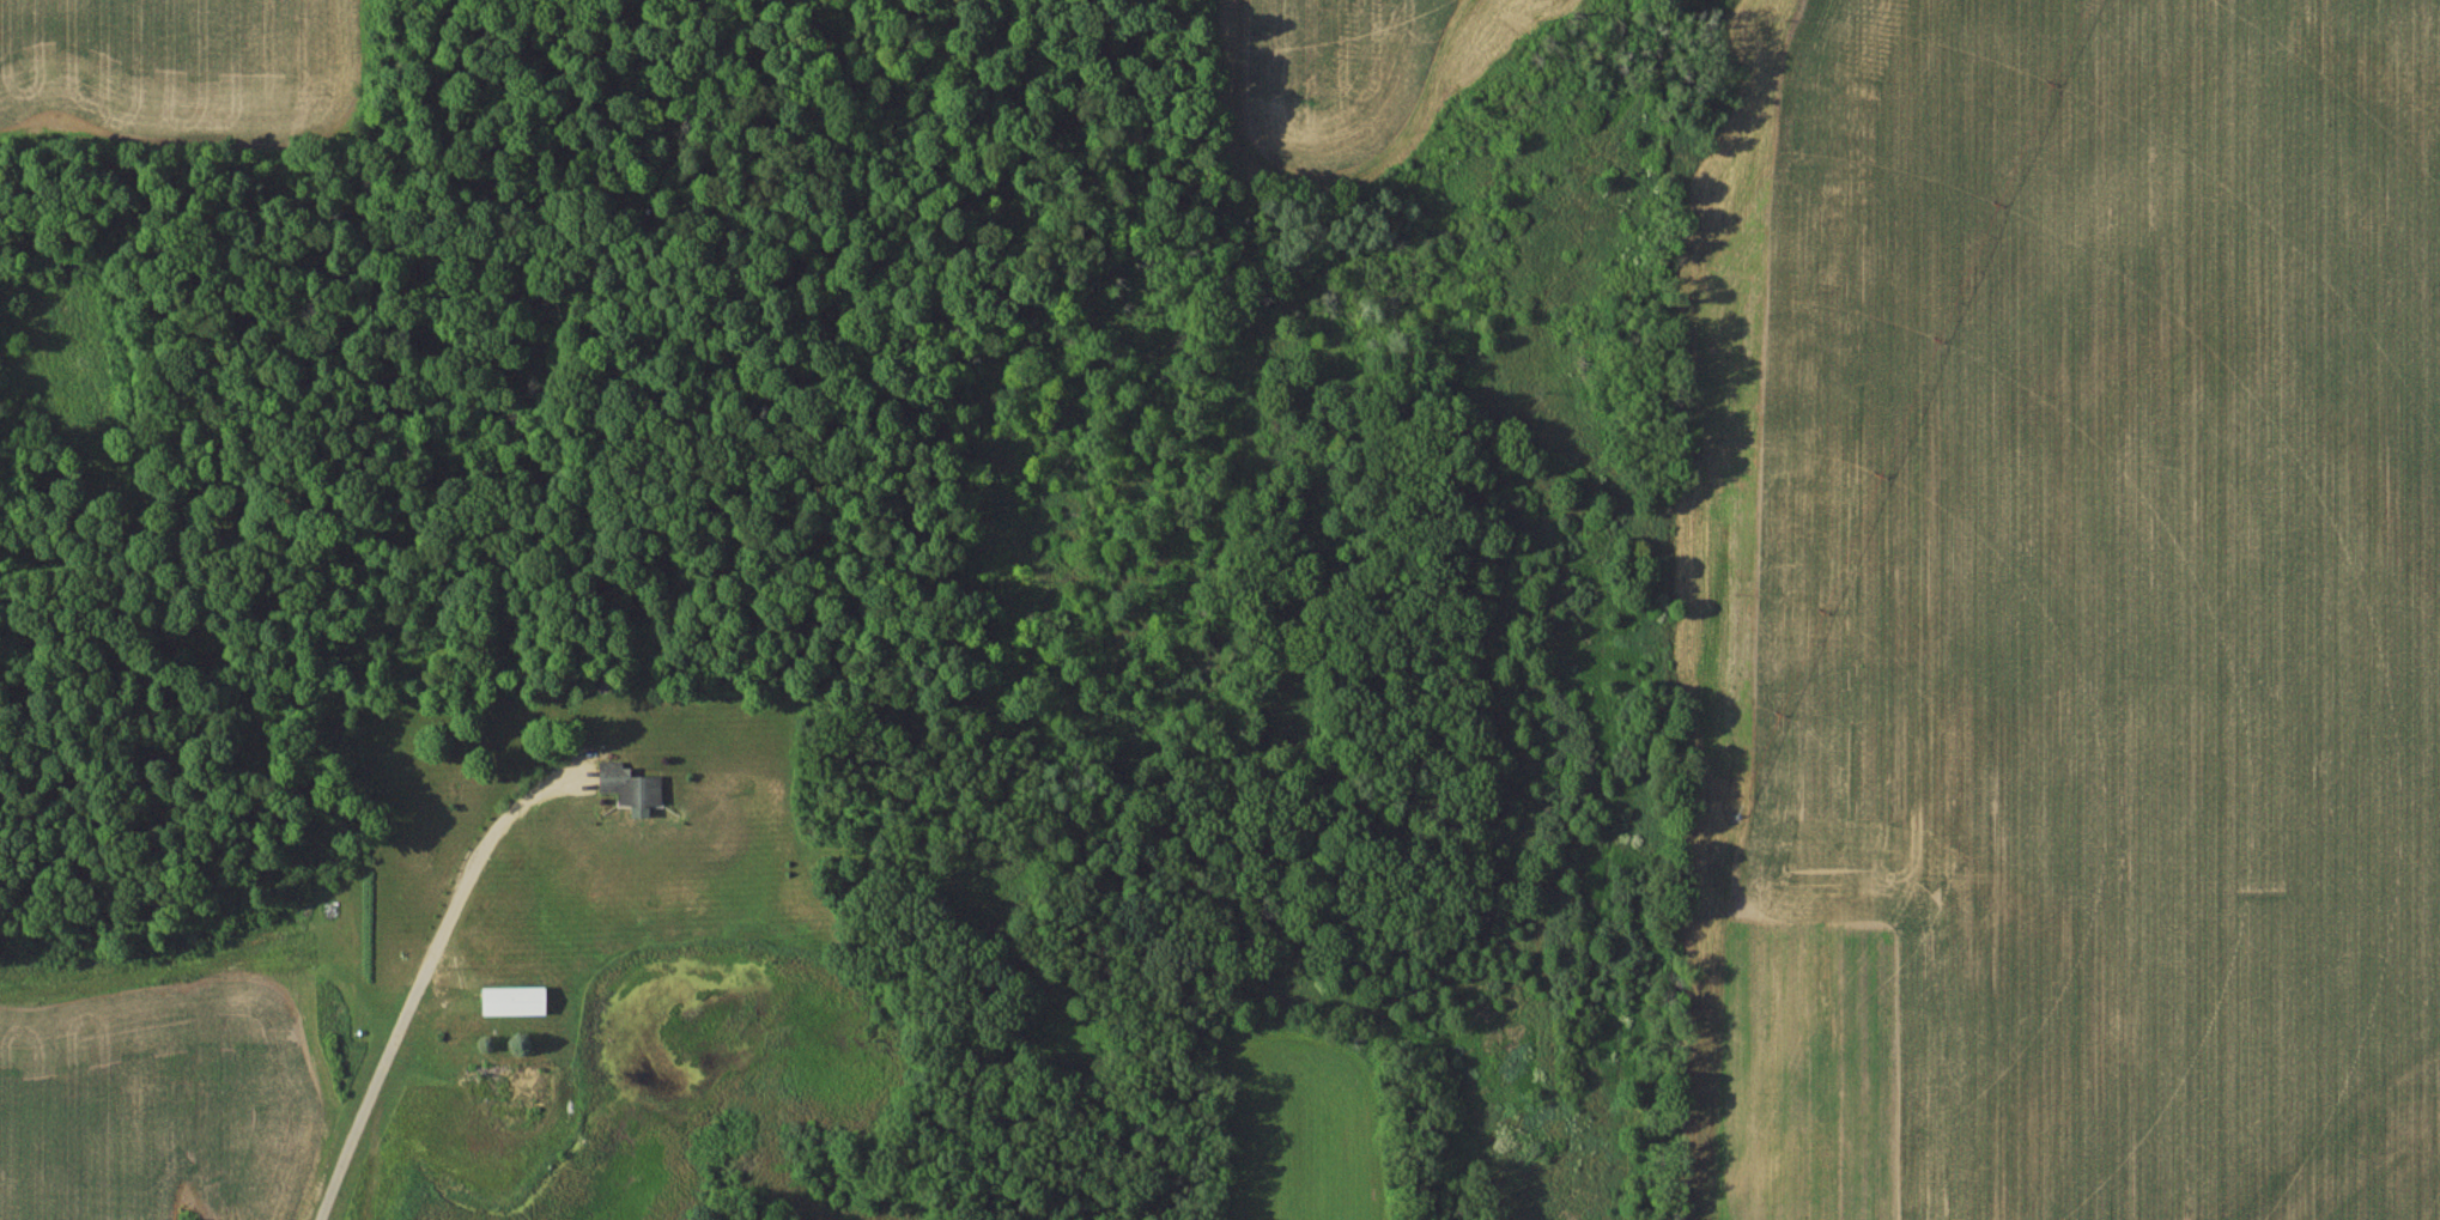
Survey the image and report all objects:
building: (630, 787)
road: (420, 983)
building: (515, 1003)
road: (1829, 1219)

